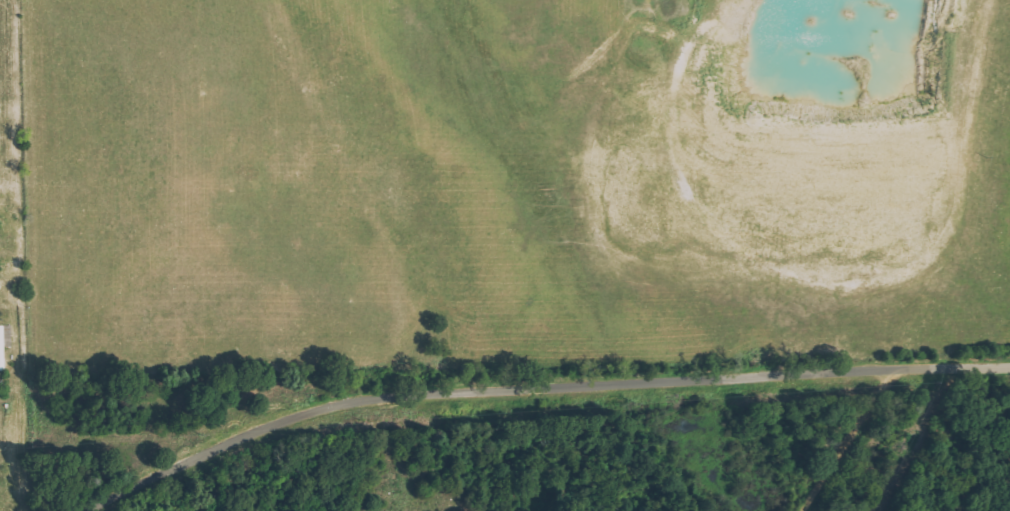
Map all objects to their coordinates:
building: (11, 266)
road: (543, 389)

